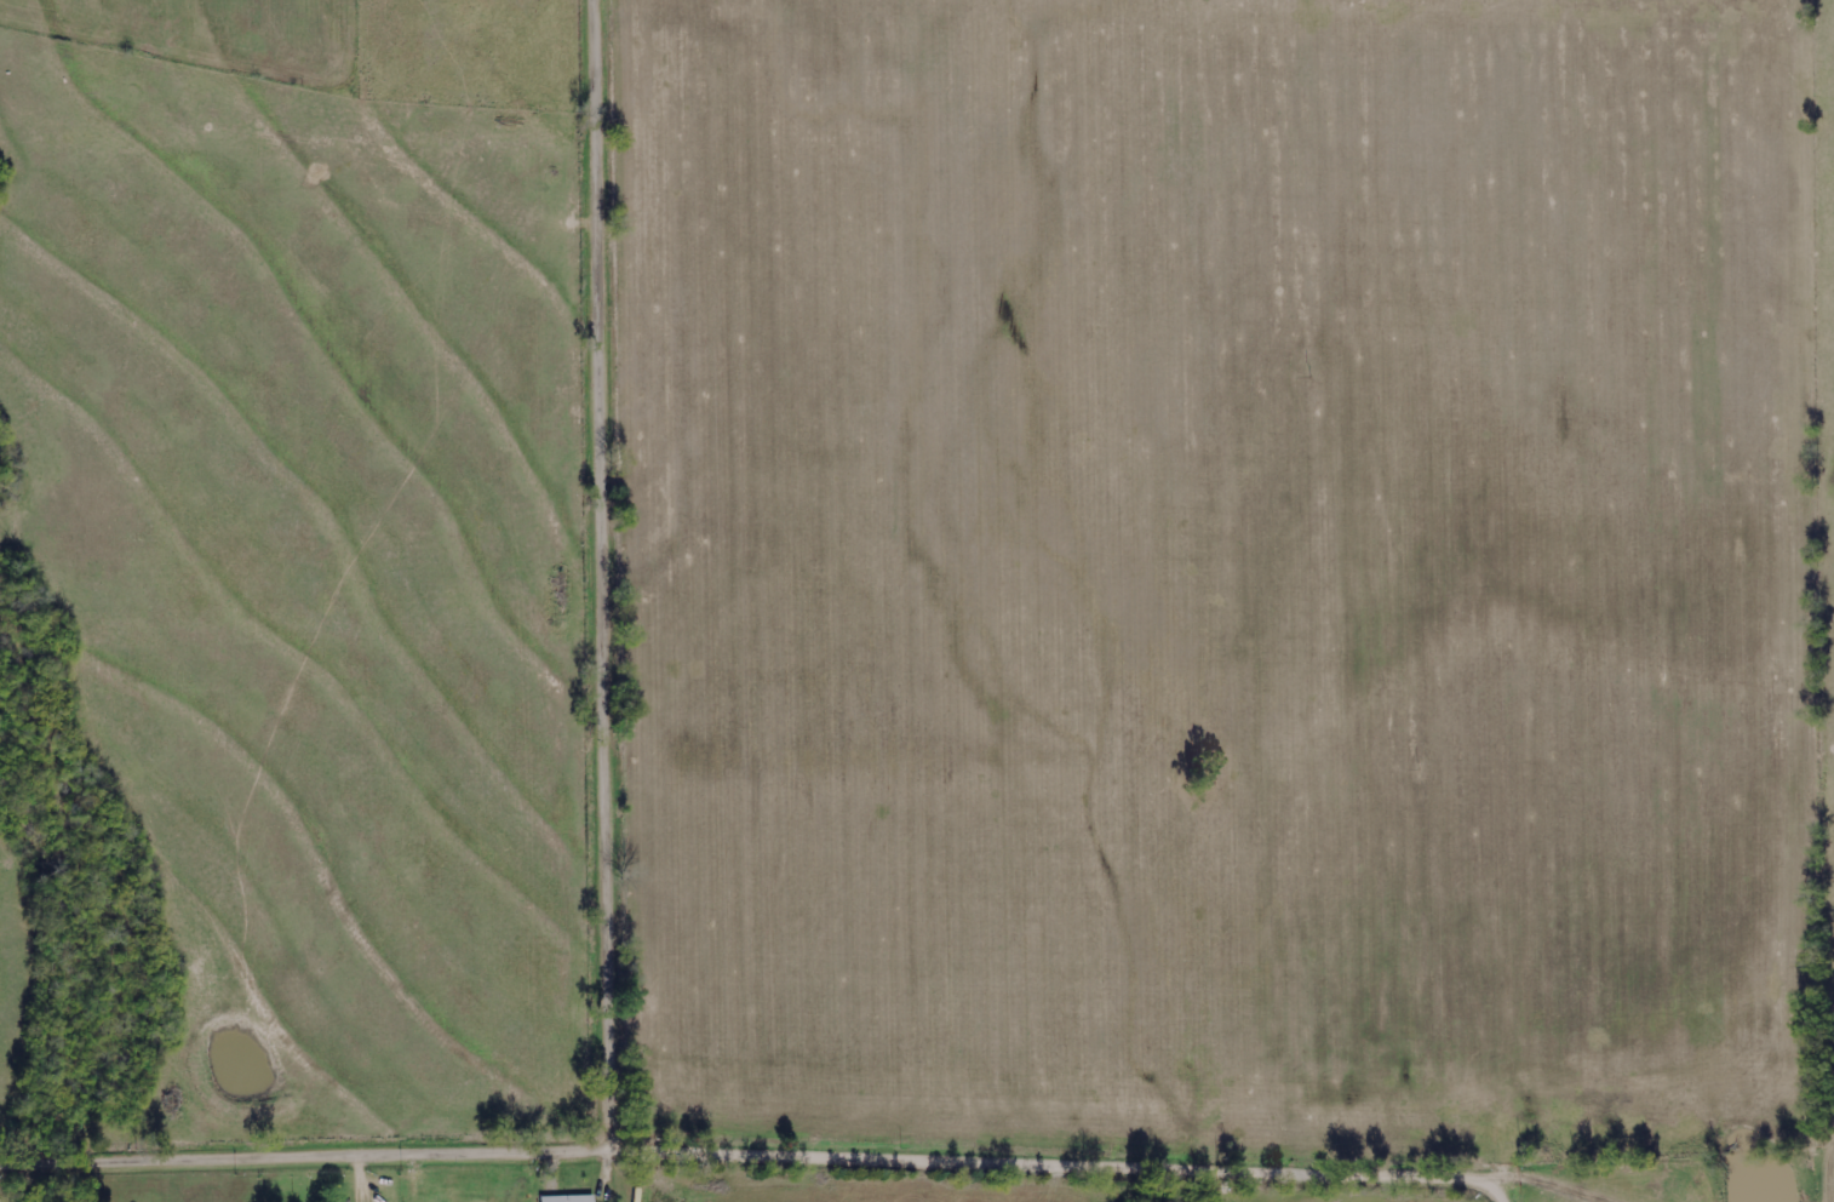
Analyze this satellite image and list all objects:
road: (609, 576)
road: (756, 1157)
building: (573, 1198)

